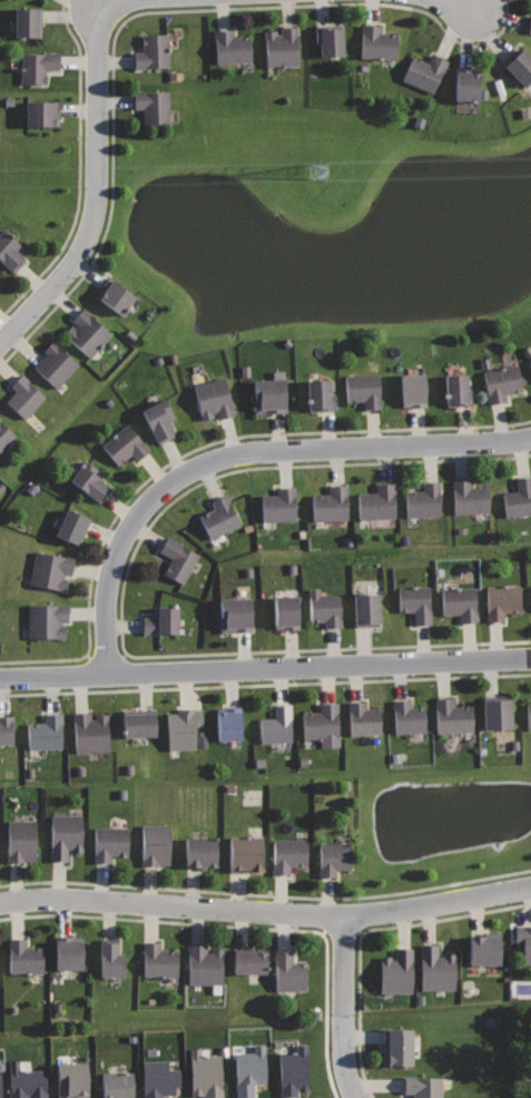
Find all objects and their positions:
road: (461, 6)
road: (144, 12)
building: (28, 22)
building: (530, 24)
building: (328, 39)
building: (377, 42)
building: (232, 47)
building: (282, 47)
building: (153, 51)
building: (519, 65)
building: (37, 66)
building: (424, 72)
building: (466, 84)
building: (154, 106)
building: (42, 112)
power tower: (337, 168)
road: (78, 169)
road: (96, 182)
building: (9, 251)
building: (115, 295)
building: (87, 333)
building: (530, 360)
building: (56, 364)
building: (501, 382)
building: (364, 389)
building: (413, 389)
building: (456, 390)
building: (269, 394)
building: (319, 394)
building: (24, 395)
building: (213, 398)
building: (158, 420)
building: (6, 435)
building: (124, 444)
road: (195, 449)
road: (242, 452)
building: (89, 480)
building: (471, 498)
building: (518, 498)
building: (423, 500)
building: (377, 501)
building: (278, 504)
building: (331, 504)
building: (219, 517)
building: (71, 527)
building: (178, 559)
building: (50, 569)
road: (121, 589)
building: (502, 600)
building: (415, 602)
building: (460, 602)
building: (324, 607)
building: (366, 609)
building: (286, 611)
building: (235, 614)
building: (47, 619)
building: (160, 621)
road: (265, 668)
road: (265, 684)
building: (496, 712)
building: (528, 715)
building: (407, 716)
building: (452, 716)
building: (363, 718)
building: (139, 722)
building: (229, 723)
building: (322, 724)
building: (276, 725)
building: (184, 727)
building: (6, 729)
building: (90, 732)
building: (46, 733)
building: (65, 834)
building: (21, 841)
building: (109, 843)
building: (156, 844)
building: (200, 851)
building: (246, 853)
building: (288, 854)
building: (333, 857)
road: (266, 894)
road: (266, 911)
road: (244, 925)
road: (363, 931)
road: (340, 933)
building: (524, 942)
building: (485, 949)
building: (69, 952)
building: (24, 957)
building: (110, 958)
building: (158, 960)
building: (250, 960)
building: (205, 965)
building: (436, 969)
building: (396, 971)
building: (289, 972)
road: (340, 1008)
building: (397, 1047)
building: (249, 1070)
building: (291, 1071)
building: (204, 1075)
building: (157, 1078)
building: (69, 1080)
building: (23, 1081)
building: (117, 1085)
building: (424, 1087)
building: (0, 1095)

